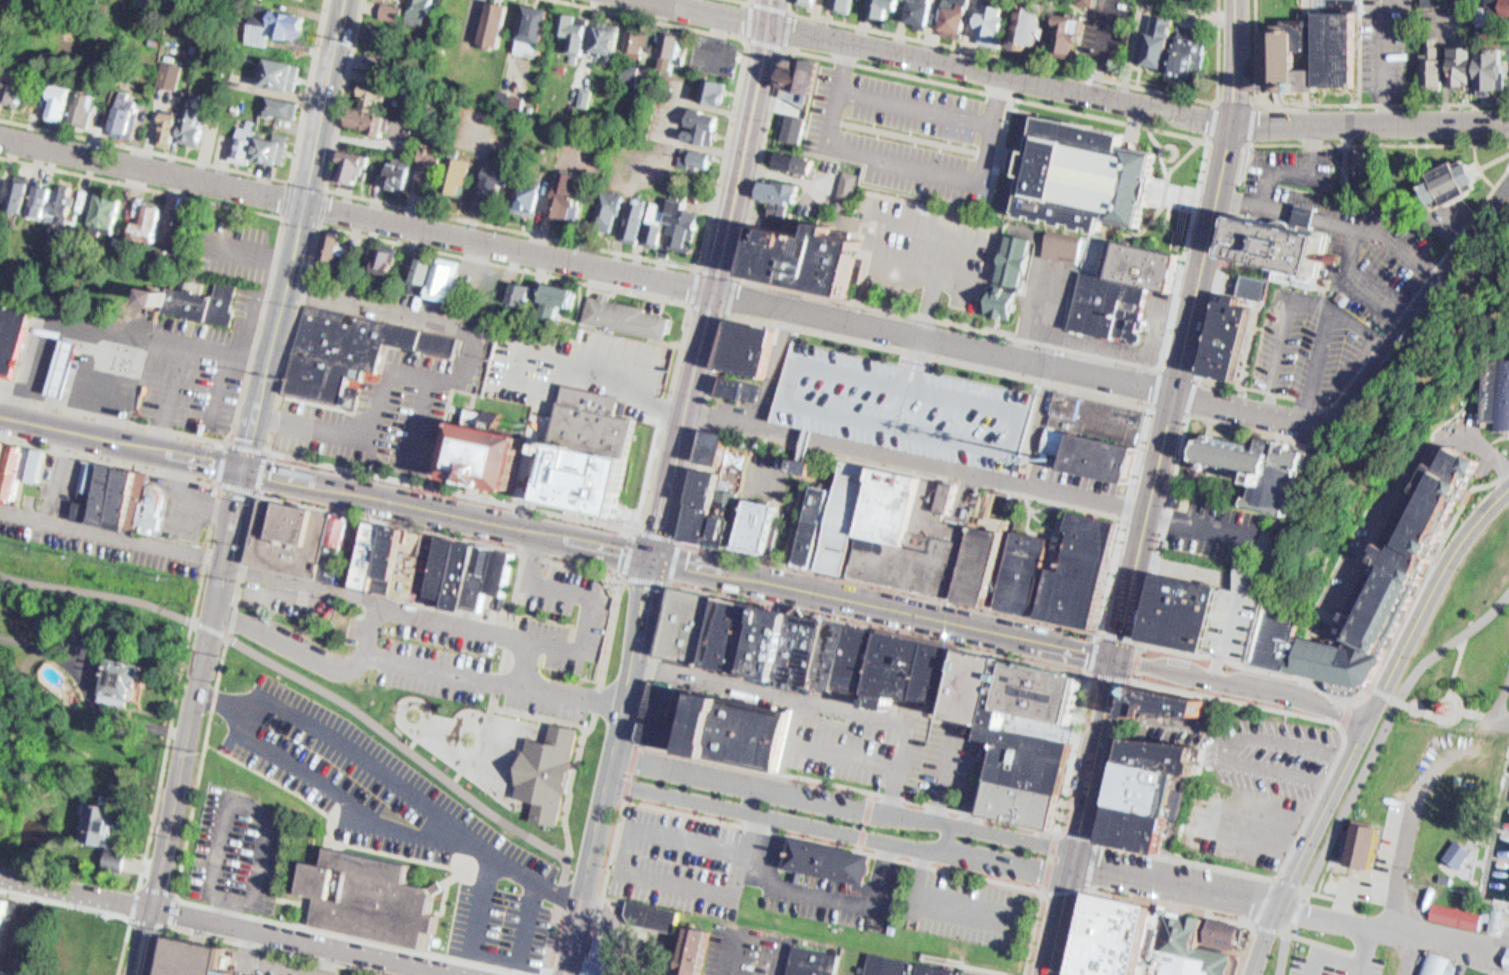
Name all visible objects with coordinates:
building: (402, 0)
building: (309, 1)
road: (742, 1)
building: (812, 2)
building: (386, 6)
building: (846, 6)
building: (890, 7)
building: (424, 8)
building: (1500, 8)
building: (413, 9)
building: (916, 10)
building: (395, 12)
building: (946, 14)
building: (960, 16)
building: (281, 17)
building: (527, 17)
building: (1021, 18)
building: (987, 19)
building: (493, 22)
building: (367, 25)
building: (539, 25)
building: (1033, 25)
building: (568, 26)
building: (1061, 27)
building: (601, 30)
building: (578, 32)
building: (631, 34)
building: (385, 35)
building: (1072, 37)
building: (642, 39)
building: (1153, 40)
building: (613, 41)
building: (666, 46)
building: (1183, 46)
building: (1307, 46)
road: (780, 47)
road: (1217, 50)
road: (1256, 52)
road: (997, 55)
building: (1456, 58)
building: (1428, 59)
road: (943, 61)
building: (1508, 61)
building: (1468, 66)
building: (1482, 66)
building: (275, 67)
building: (627, 68)
road: (881, 69)
building: (802, 74)
building: (166, 75)
building: (7, 78)
building: (20, 87)
building: (705, 87)
building: (500, 89)
building: (580, 90)
building: (48, 94)
building: (513, 95)
building: (272, 97)
building: (76, 100)
road: (913, 100)
road: (1236, 102)
road: (1382, 103)
building: (59, 105)
building: (287, 107)
building: (116, 108)
building: (434, 109)
building: (125, 115)
building: (361, 117)
building: (695, 118)
building: (184, 119)
road: (1210, 120)
road: (1370, 122)
building: (159, 123)
road: (1251, 124)
building: (796, 127)
parking lot: (908, 129)
building: (168, 131)
building: (266, 139)
road: (1226, 142)
building: (235, 143)
road: (1378, 144)
building: (691, 151)
road: (900, 153)
building: (420, 159)
building: (348, 161)
building: (794, 161)
road: (1496, 161)
building: (434, 166)
building: (1364, 166)
building: (391, 167)
road: (232, 168)
building: (450, 169)
building: (488, 170)
building: (1079, 175)
building: (401, 176)
building: (463, 176)
building: (502, 179)
building: (1, 180)
building: (847, 182)
building: (1463, 183)
road: (322, 188)
building: (558, 188)
building: (519, 190)
building: (780, 190)
building: (12, 191)
building: (33, 195)
building: (532, 195)
building: (24, 196)
building: (572, 196)
building: (54, 197)
building: (599, 206)
building: (610, 206)
building: (96, 210)
building: (628, 215)
building: (141, 218)
building: (171, 221)
building: (666, 222)
building: (183, 227)
road: (294, 233)
building: (323, 240)
building: (1061, 245)
building: (1284, 245)
building: (334, 248)
road: (619, 251)
building: (375, 254)
road: (1184, 255)
building: (811, 257)
building: (387, 262)
road: (588, 262)
road: (1223, 262)
building: (415, 263)
building: (1148, 265)
building: (435, 275)
building: (1010, 276)
road: (709, 278)
building: (450, 281)
building: (511, 289)
road: (1424, 291)
building: (525, 295)
building: (550, 295)
building: (564, 301)
building: (195, 302)
road: (687, 303)
road: (687, 304)
road: (259, 305)
building: (1109, 305)
building: (620, 311)
road: (947, 322)
road: (1189, 330)
building: (12, 336)
building: (1235, 339)
road: (202, 340)
building: (750, 347)
building: (349, 350)
road: (896, 350)
road: (910, 356)
road: (912, 356)
road: (829, 360)
building: (63, 366)
gas station: (63, 366)
road: (781, 367)
parking lot: (185, 368)
road: (169, 373)
road: (1177, 374)
road: (1374, 375)
road: (214, 381)
building: (742, 387)
building: (1490, 388)
road: (1155, 389)
road: (1269, 390)
road: (1193, 396)
building: (907, 404)
parking garage: (907, 404)
road: (1169, 410)
road: (706, 413)
building: (1096, 417)
road: (789, 426)
road: (1249, 430)
road: (979, 439)
building: (714, 445)
road: (1143, 452)
building: (589, 454)
building: (1094, 454)
building: (495, 457)
road: (916, 458)
building: (711, 460)
building: (1249, 464)
building: (5, 466)
building: (39, 466)
traffic signals: (244, 467)
building: (808, 467)
road: (1002, 472)
building: (18, 475)
building: (709, 487)
road: (256, 488)
building: (91, 491)
building: (112, 496)
building: (134, 500)
building: (156, 506)
road: (1132, 507)
road: (1128, 517)
building: (850, 518)
building: (729, 520)
building: (702, 523)
building: (760, 527)
building: (815, 528)
building: (295, 535)
building: (921, 535)
road: (559, 536)
building: (342, 545)
parking lot: (100, 548)
building: (380, 554)
traffic signals: (653, 557)
building: (400, 558)
building: (422, 558)
building: (455, 566)
building: (996, 568)
building: (510, 570)
building: (473, 573)
building: (1030, 573)
building: (1090, 573)
building: (1378, 574)
building: (490, 577)
road: (201, 578)
road: (667, 581)
road: (1428, 596)
road: (369, 599)
building: (1201, 614)
parking lot: (567, 618)
building: (46, 621)
parking lot: (1255, 625)
building: (691, 626)
road: (371, 629)
park: (1463, 631)
building: (743, 633)
road: (1107, 634)
road: (226, 637)
building: (785, 641)
building: (816, 647)
building: (839, 652)
building: (865, 657)
traffic signals: (1119, 658)
road: (526, 662)
road: (410, 663)
road: (1458, 663)
parking lot: (440, 664)
building: (922, 667)
road: (1279, 673)
building: (127, 677)
road: (1244, 685)
road: (1385, 695)
road: (1445, 695)
building: (671, 699)
road: (815, 700)
building: (1176, 700)
road: (221, 702)
road: (1500, 702)
road: (352, 708)
road: (910, 716)
road: (187, 720)
building: (746, 727)
building: (1031, 728)
building: (668, 729)
building: (1167, 750)
parking lot: (861, 751)
road: (850, 754)
parking lot: (1272, 754)
road: (1096, 759)
parking lot: (946, 763)
road: (1368, 765)
road: (609, 766)
building: (552, 769)
road: (629, 770)
road: (579, 772)
road: (944, 773)
building: (1153, 784)
road: (410, 793)
road: (749, 798)
road: (349, 802)
road: (845, 806)
road: (254, 809)
road: (1107, 809)
parking lot: (398, 816)
building: (97, 821)
parking lot: (1248, 824)
building: (1144, 827)
road: (789, 828)
road: (1065, 830)
road: (840, 831)
building: (1450, 832)
road: (948, 834)
building: (1369, 843)
road: (1307, 846)
parking lot: (237, 850)
road: (625, 853)
building: (1463, 853)
pier: (1506, 853)
building: (836, 858)
parking lot: (731, 866)
road: (1079, 888)
road: (818, 890)
road: (73, 893)
building: (373, 895)
road: (933, 897)
parking lot: (960, 902)
road: (1153, 903)
road: (1264, 903)
road: (1278, 907)
road: (91, 910)
building: (641, 912)
building: (1459, 915)
road: (1062, 918)
building: (1501, 918)
road: (151, 924)
building: (9, 925)
pier: (1506, 926)
road: (618, 927)
road: (755, 929)
building: (1226, 933)
building: (1121, 936)
road: (303, 942)
road: (251, 946)
building: (1189, 947)
parking lot: (744, 948)
building: (686, 949)
road: (487, 950)
building: (705, 950)
road: (1409, 953)
building: (195, 956)
road: (1346, 957)
building: (607, 958)
building: (812, 958)
parking lot: (1332, 959)
building: (889, 963)
building: (1436, 964)
building: (1508, 966)
building: (933, 969)
building: (12, 971)

